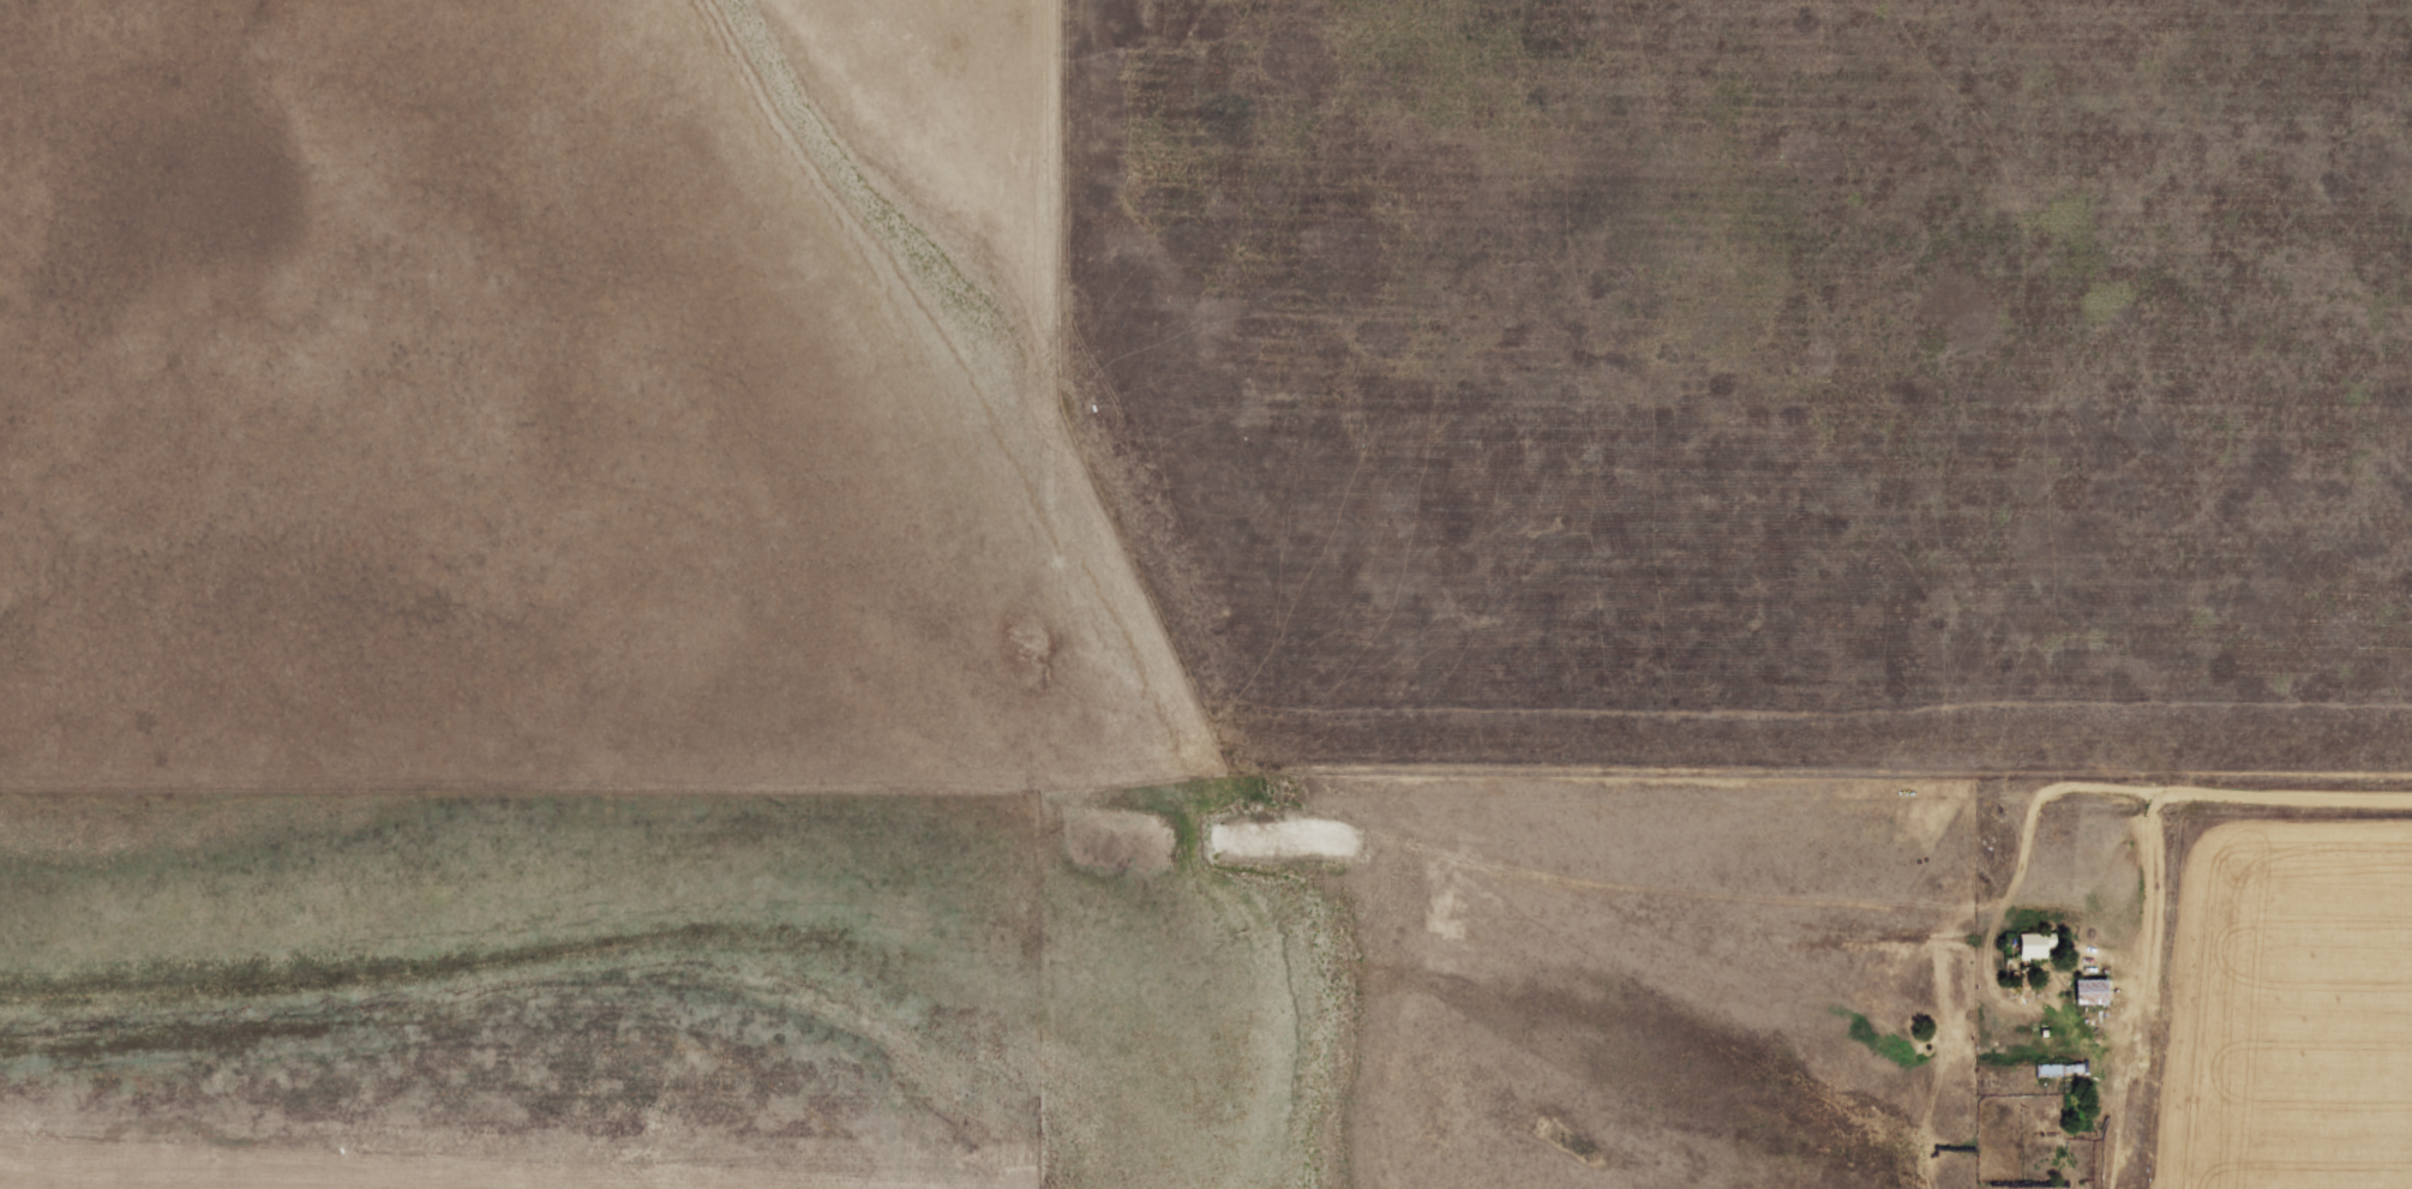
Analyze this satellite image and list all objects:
road: (2189, 781)

